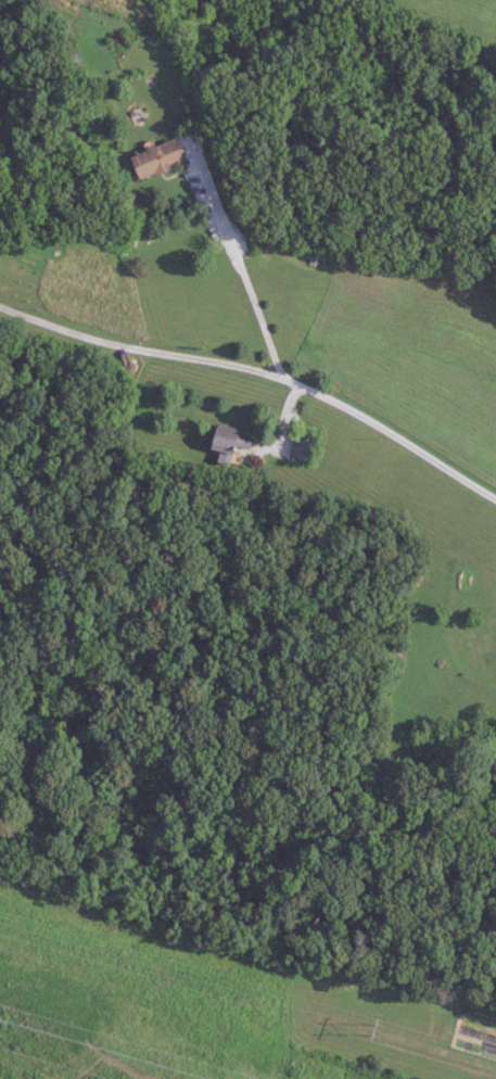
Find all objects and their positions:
building: (160, 160)
road: (242, 268)
road: (259, 370)
building: (231, 441)
building: (303, 447)
power tower: (374, 1027)

